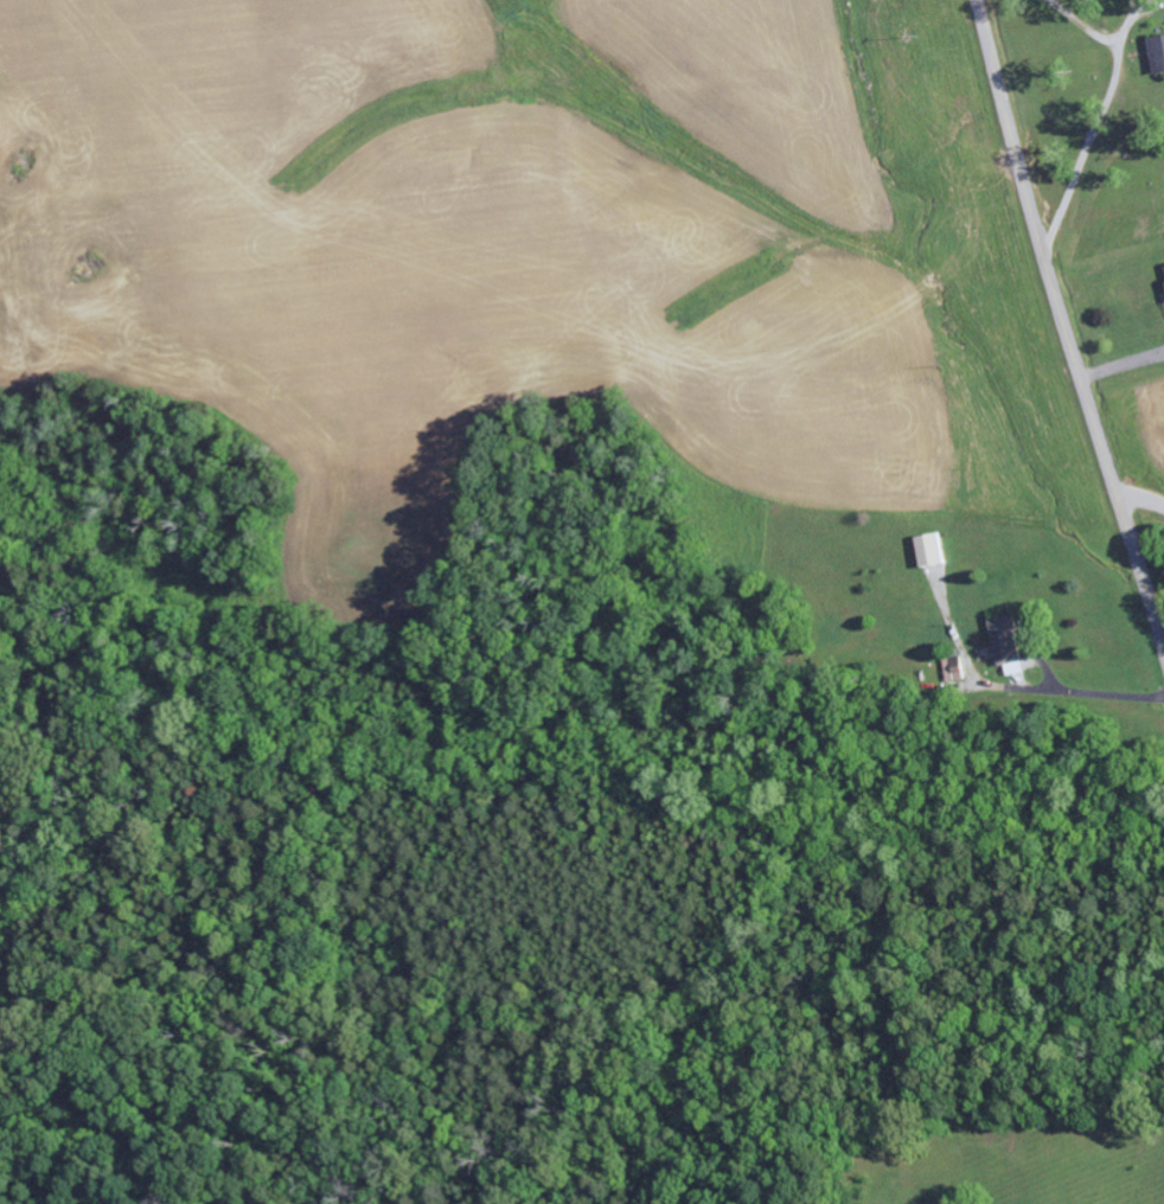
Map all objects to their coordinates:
building: (1159, 52)
road: (1066, 329)
road: (1139, 497)
building: (933, 550)
building: (1009, 645)
building: (955, 668)

